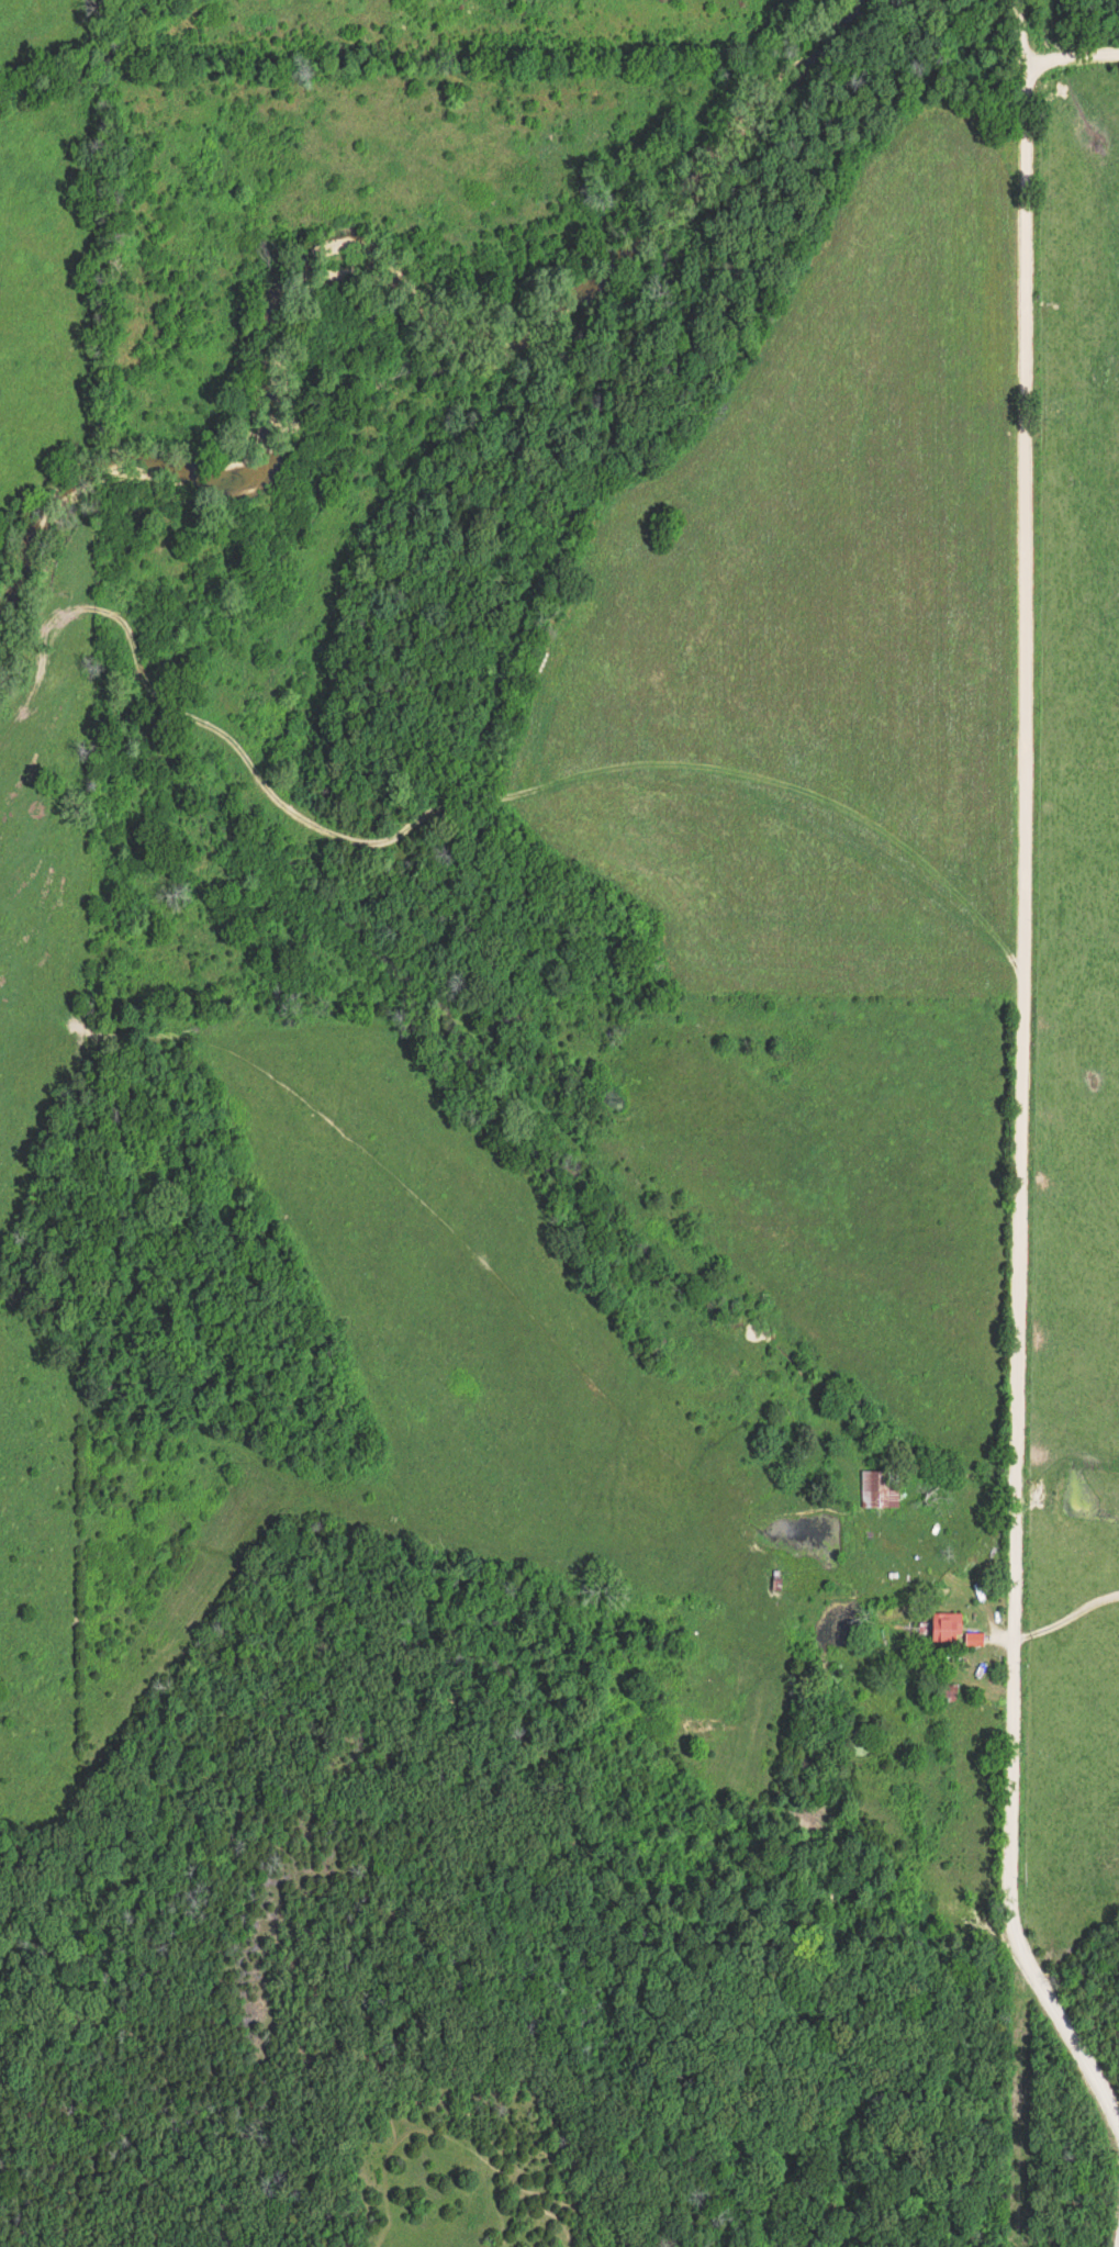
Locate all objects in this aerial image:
road: (1070, 59)
road: (1021, 1073)
building: (948, 1628)
building: (975, 1641)

